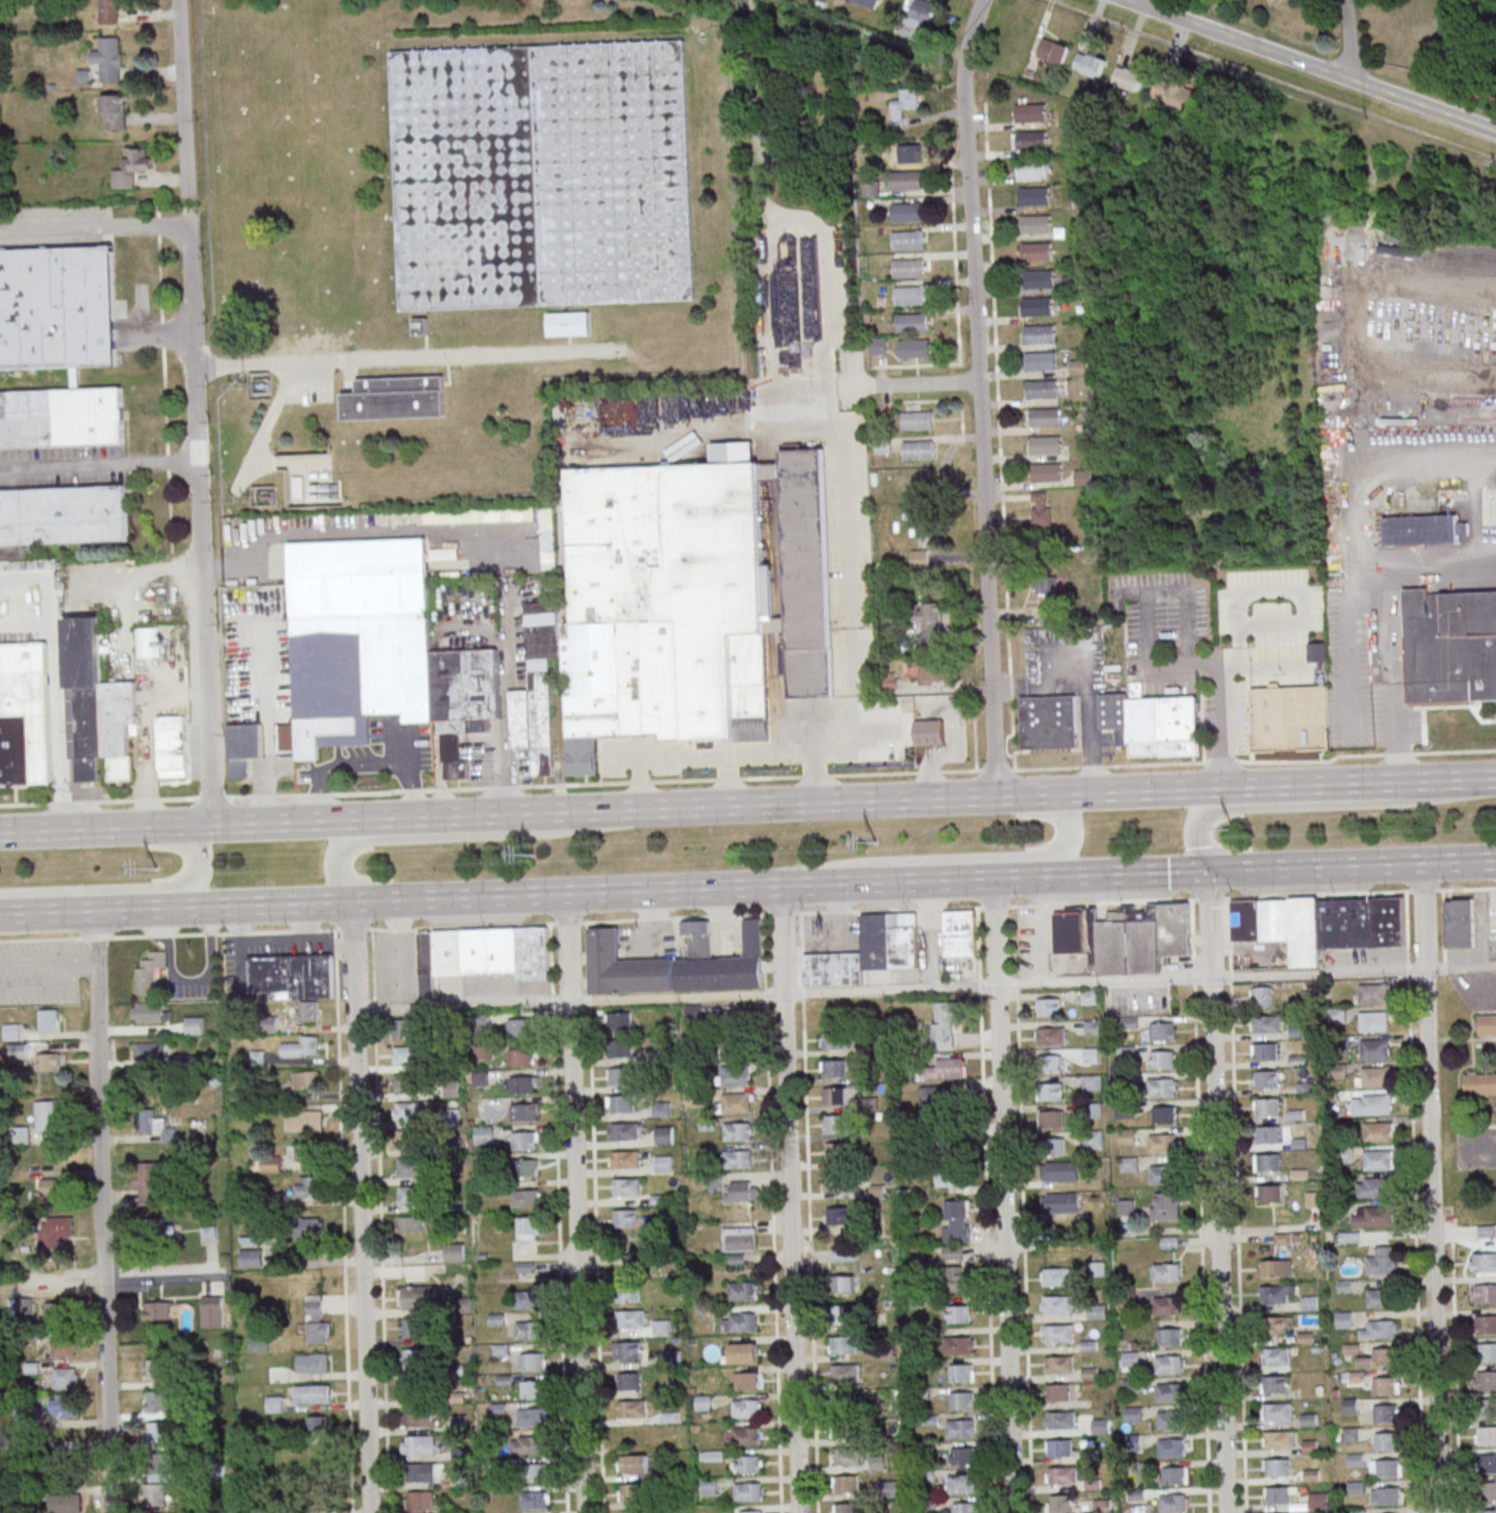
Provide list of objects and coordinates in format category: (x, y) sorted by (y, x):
building: (1276, 1)
building: (869, 3)
building: (109, 11)
building: (923, 11)
road: (1348, 39)
building: (1053, 50)
building: (109, 58)
building: (1089, 65)
road: (1315, 65)
road: (753, 75)
building: (1128, 77)
building: (1173, 95)
road: (182, 97)
building: (904, 107)
building: (113, 111)
building: (1028, 111)
building: (1028, 139)
building: (910, 153)
building: (1030, 166)
building: (132, 167)
building: (543, 176)
building: (903, 179)
road: (757, 188)
building: (1031, 195)
building: (904, 211)
road: (778, 220)
building: (1033, 223)
road: (94, 227)
building: (904, 239)
building: (1033, 251)
building: (905, 267)
building: (1036, 278)
building: (908, 294)
building: (1034, 306)
building: (57, 308)
building: (909, 321)
building: (571, 327)
building: (421, 328)
road: (166, 331)
building: (1036, 333)
road: (1369, 344)
building: (879, 345)
building: (911, 347)
road: (343, 360)
building: (1037, 360)
building: (1078, 366)
road: (923, 383)
road: (848, 385)
building: (1039, 388)
building: (393, 396)
road: (978, 396)
building: (60, 416)
building: (1042, 416)
building: (914, 420)
building: (1043, 443)
building: (915, 449)
road: (100, 463)
building: (1044, 472)
building: (1083, 477)
building: (1041, 508)
building: (61, 514)
road: (202, 515)
building: (929, 528)
building: (1423, 529)
road: (849, 547)
building: (920, 557)
road: (140, 568)
building: (803, 572)
building: (1048, 597)
building: (663, 603)
road: (1147, 605)
building: (929, 619)
road: (124, 621)
road: (1392, 626)
building: (146, 642)
building: (372, 644)
building: (1450, 645)
building: (1317, 652)
building: (932, 673)
building: (889, 680)
road: (56, 683)
building: (537, 688)
road: (150, 697)
road: (503, 698)
road: (265, 705)
building: (98, 706)
building: (23, 713)
building: (1289, 718)
building: (1049, 722)
building: (1149, 722)
road: (1216, 724)
building: (930, 731)
building: (172, 746)
building: (243, 748)
road: (815, 750)
road: (727, 758)
road: (361, 762)
road: (639, 768)
road: (748, 778)
road: (1447, 780)
road: (728, 782)
road: (1307, 785)
road: (145, 794)
road: (1214, 798)
road: (875, 800)
road: (1206, 811)
road: (426, 816)
road: (159, 826)
power tower: (1233, 832)
road: (432, 836)
road: (1197, 843)
power tower: (877, 846)
power tower: (534, 852)
road: (977, 857)
road: (1458, 860)
power tower: (158, 863)
road: (1314, 866)
traffic signals: (1208, 871)
road: (1134, 873)
road: (966, 880)
road: (125, 887)
road: (513, 895)
road: (77, 912)
road: (748, 913)
building: (1459, 923)
building: (1320, 924)
building: (1069, 931)
building: (960, 933)
building: (1139, 938)
road: (783, 939)
road: (566, 947)
building: (869, 951)
building: (479, 953)
building: (622, 967)
building: (150, 972)
building: (289, 974)
road: (1032, 983)
building: (1373, 994)
building: (1261, 996)
building: (1089, 997)
road: (460, 1004)
building: (1049, 1006)
building: (307, 1011)
building: (150, 1012)
building: (49, 1020)
building: (616, 1020)
building: (1373, 1021)
building: (1130, 1022)
building: (1267, 1024)
building: (1487, 1024)
building: (194, 1025)
building: (945, 1025)
building: (404, 1027)
building: (520, 1027)
building: (1093, 1027)
building: (12, 1031)
building: (1163, 1031)
building: (1051, 1036)
building: (835, 1040)
building: (302, 1047)
building: (618, 1048)
building: (733, 1048)
building: (1375, 1049)
building: (150, 1050)
building: (16, 1051)
building: (484, 1051)
building: (1264, 1051)
building: (404, 1055)
building: (523, 1057)
building: (1162, 1059)
building: (49, 1061)
building: (1052, 1064)
building: (834, 1068)
building: (949, 1068)
building: (616, 1075)
building: (735, 1075)
building: (1373, 1076)
building: (480, 1078)
building: (304, 1079)
building: (1266, 1079)
building: (404, 1082)
building: (1480, 1083)
building: (524, 1084)
building: (1162, 1087)
building: (1051, 1091)
building: (942, 1095)
building: (835, 1096)
building: (737, 1102)
building: (617, 1103)
building: (1375, 1104)
building: (1267, 1107)
building: (525, 1111)
building: (407, 1112)
building: (49, 1114)
building: (1165, 1114)
building: (1051, 1119)
building: (300, 1120)
building: (834, 1123)
building: (160, 1127)
building: (622, 1130)
building: (739, 1131)
building: (1378, 1131)
building: (21, 1134)
building: (664, 1134)
building: (1268, 1134)
building: (484, 1135)
building: (525, 1139)
building: (1093, 1139)
building: (1162, 1142)
building: (1054, 1146)
building: (835, 1151)
building: (948, 1151)
building: (303, 1152)
road: (1489, 1156)
building: (622, 1159)
building: (739, 1159)
building: (1379, 1160)
building: (1267, 1162)
building: (663, 1163)
building: (267, 1165)
building: (408, 1167)
building: (527, 1167)
building: (1063, 1171)
building: (1161, 1174)
building: (949, 1177)
building: (834, 1181)
building: (147, 1182)
building: (308, 1186)
building: (623, 1187)
building: (1372, 1187)
road: (1430, 1187)
building: (51, 1188)
building: (741, 1190)
road: (1216, 1192)
building: (1270, 1193)
building: (409, 1194)
road: (1001, 1196)
building: (526, 1198)
road: (1411, 1202)
building: (1061, 1203)
building: (1165, 1205)
road: (360, 1207)
road: (104, 1212)
road: (593, 1216)
building: (838, 1216)
building: (1373, 1216)
road: (555, 1217)
building: (625, 1218)
road: (377, 1220)
building: (955, 1221)
building: (411, 1224)
building: (312, 1226)
building: (63, 1227)
building: (528, 1228)
building: (209, 1233)
building: (739, 1238)
building: (454, 1252)
road: (789, 1252)
building: (951, 1252)
building: (844, 1255)
road: (575, 1256)
building: (251, 1257)
building: (1383, 1261)
building: (1483, 1262)
building: (1270, 1268)
building: (413, 1272)
building: (1166, 1272)
building: (1054, 1276)
road: (164, 1279)
building: (955, 1279)
building: (838, 1283)
building: (744, 1290)
building: (629, 1293)
building: (1484, 1293)
building: (1271, 1294)
building: (416, 1297)
building: (1379, 1297)
building: (527, 1299)
building: (1054, 1303)
building: (1310, 1303)
building: (1166, 1305)
building: (24, 1306)
building: (57, 1310)
building: (157, 1310)
building: (212, 1311)
building: (1097, 1311)
building: (839, 1313)
building: (959, 1314)
building: (630, 1319)
building: (1344, 1319)
building: (317, 1321)
building: (739, 1321)
building: (1280, 1324)
building: (1486, 1324)
building: (414, 1326)
building: (661, 1327)
building: (1381, 1329)
building: (530, 1330)
building: (1055, 1333)
building: (1170, 1336)
building: (843, 1345)
building: (955, 1345)
building: (65, 1346)
building: (633, 1349)
building: (1487, 1352)
building: (744, 1353)
building: (1273, 1357)
building: (1382, 1357)
building: (416, 1358)
building: (1130, 1360)
building: (533, 1361)
building: (310, 1362)
building: (1057, 1364)
building: (1166, 1364)
road: (1453, 1367)
building: (154, 1369)
building: (962, 1372)
building: (842, 1373)
building: (277, 1374)
building: (1353, 1376)
building: (65, 1377)
building: (748, 1380)
building: (1485, 1380)
building: (630, 1381)
building: (1275, 1384)
building: (1387, 1385)
building: (1131, 1386)
building: (414, 1389)
building: (534, 1389)
building: (311, 1392)
building: (1058, 1392)
building: (1167, 1392)
building: (157, 1399)
building: (963, 1400)
building: (844, 1401)
building: (703, 1403)
building: (275, 1404)
building: (62, 1405)
building: (1350, 1405)
building: (747, 1408)
building: (1486, 1408)
building: (633, 1409)
building: (1275, 1411)
building: (1386, 1412)
building: (1133, 1414)
building: (417, 1415)
building: (533, 1416)
building: (1058, 1419)
building: (1168, 1420)
building: (1101, 1425)
building: (318, 1426)
building: (845, 1427)
building: (957, 1428)
building: (158, 1430)
building: (1486, 1435)
building: (747, 1436)
building: (1276, 1440)
building: (1386, 1440)
building: (1133, 1442)
building: (419, 1443)
building: (529, 1444)
building: (1169, 1447)
building: (1059, 1448)
building: (713, 1455)
building: (964, 1455)
building: (845, 1456)
building: (158, 1461)
building: (877, 1462)
building: (1487, 1462)
building: (633, 1464)
building: (747, 1464)
building: (1274, 1467)
building: (1386, 1468)
building: (420, 1471)
building: (536, 1472)
building: (64, 1473)
building: (1060, 1475)
building: (1173, 1475)
building: (962, 1483)
building: (846, 1484)
building: (708, 1486)
building: (888, 1488)
building: (749, 1491)
building: (1489, 1491)
building: (631, 1492)
building: (155, 1494)
building: (1280, 1494)
building: (1386, 1496)
building: (535, 1499)
building: (1318, 1500)
building: (420, 1501)
building: (1170, 1502)
building: (65, 1503)
building: (1060, 1503)
building: (1105, 1504)
building: (965, 1507)
building: (845, 1508)
building: (631, 1511)
building: (750, 1511)
building: (1487, 1511)

